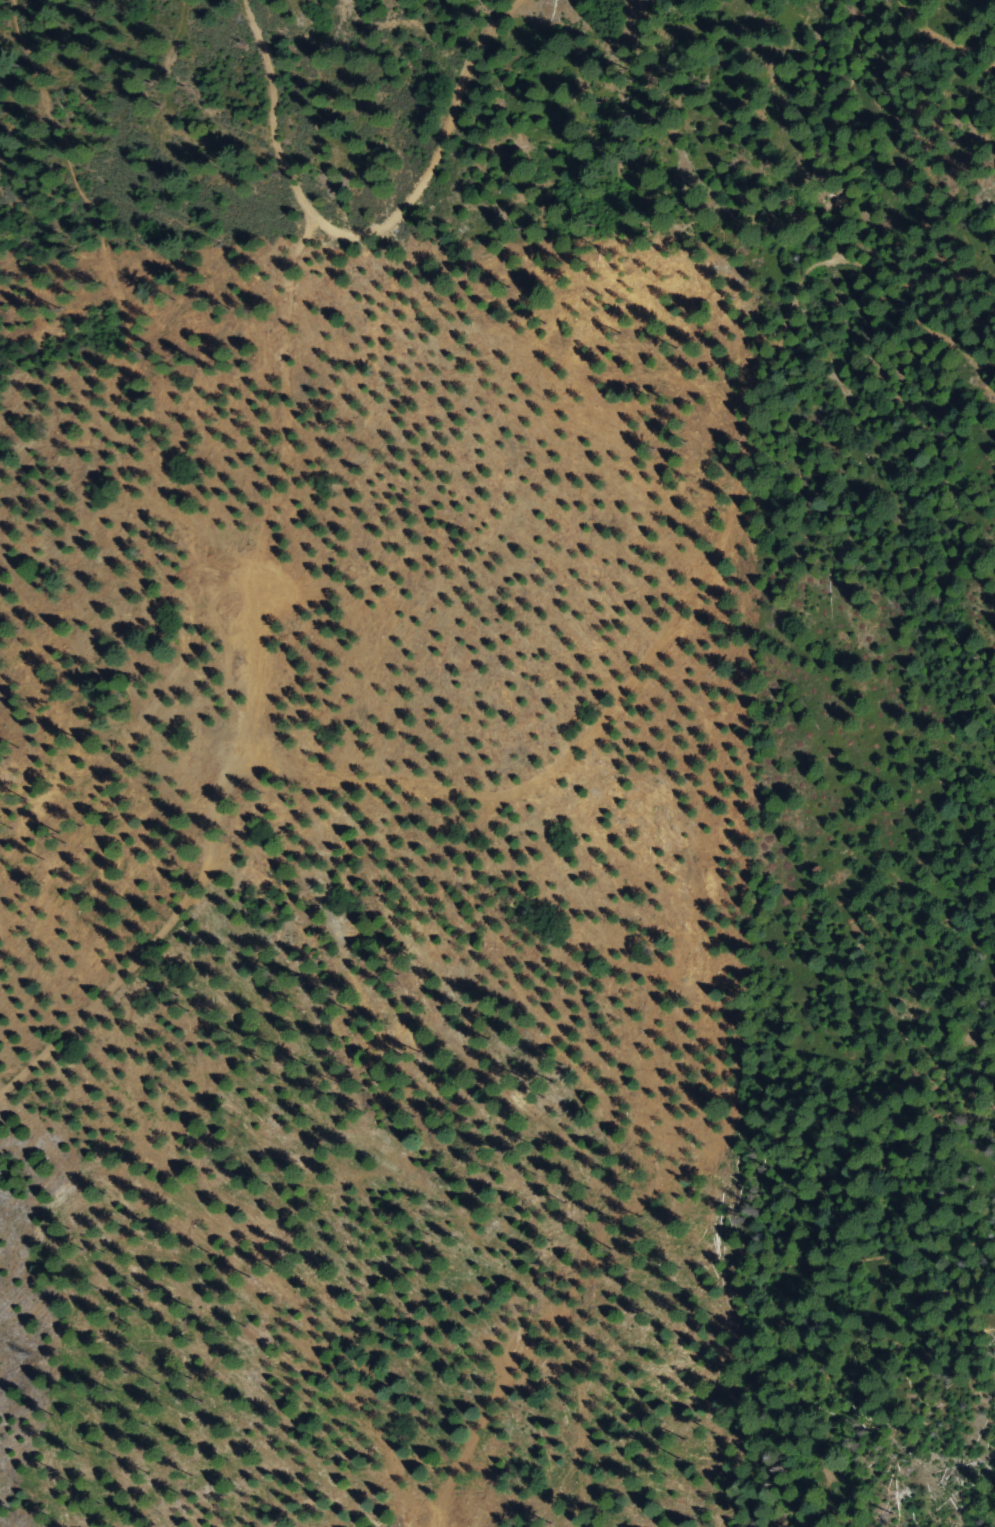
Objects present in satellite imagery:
road: (462, 1438)

